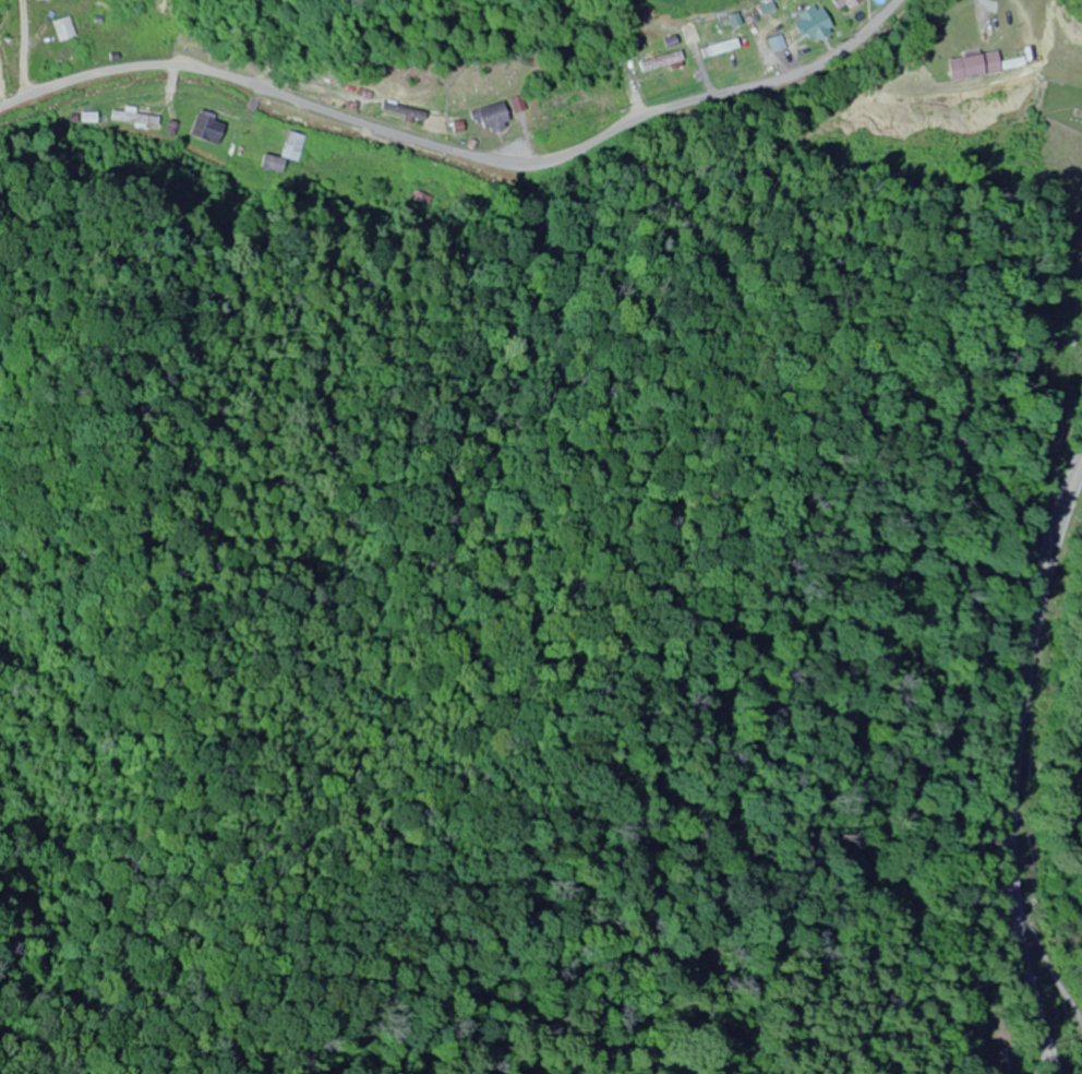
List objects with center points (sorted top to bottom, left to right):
building: (809, 2)
building: (853, 3)
building: (815, 25)
building: (63, 29)
building: (663, 62)
building: (975, 67)
building: (405, 111)
building: (492, 117)
road: (124, 121)
building: (207, 128)
road: (416, 145)
building: (293, 146)
building: (273, 164)
road: (1011, 766)

